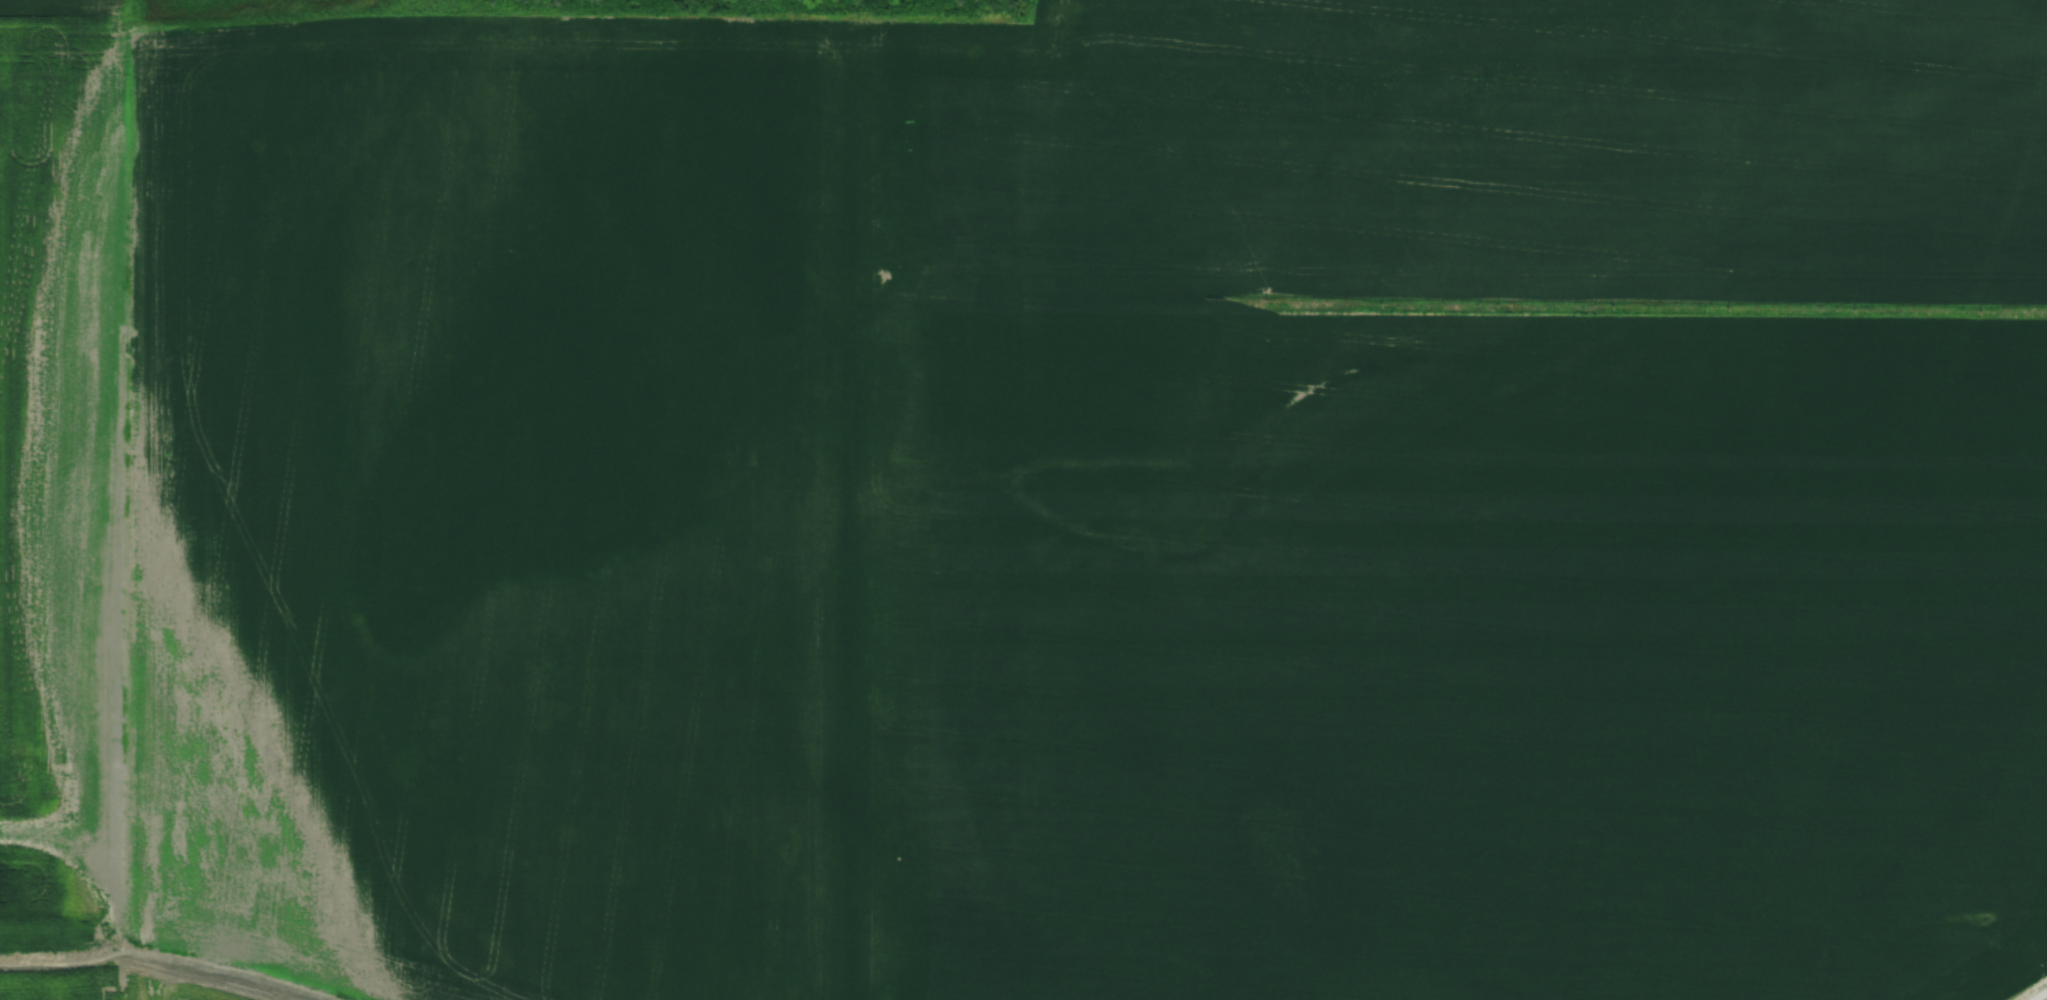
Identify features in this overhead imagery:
road: (2044, 998)

